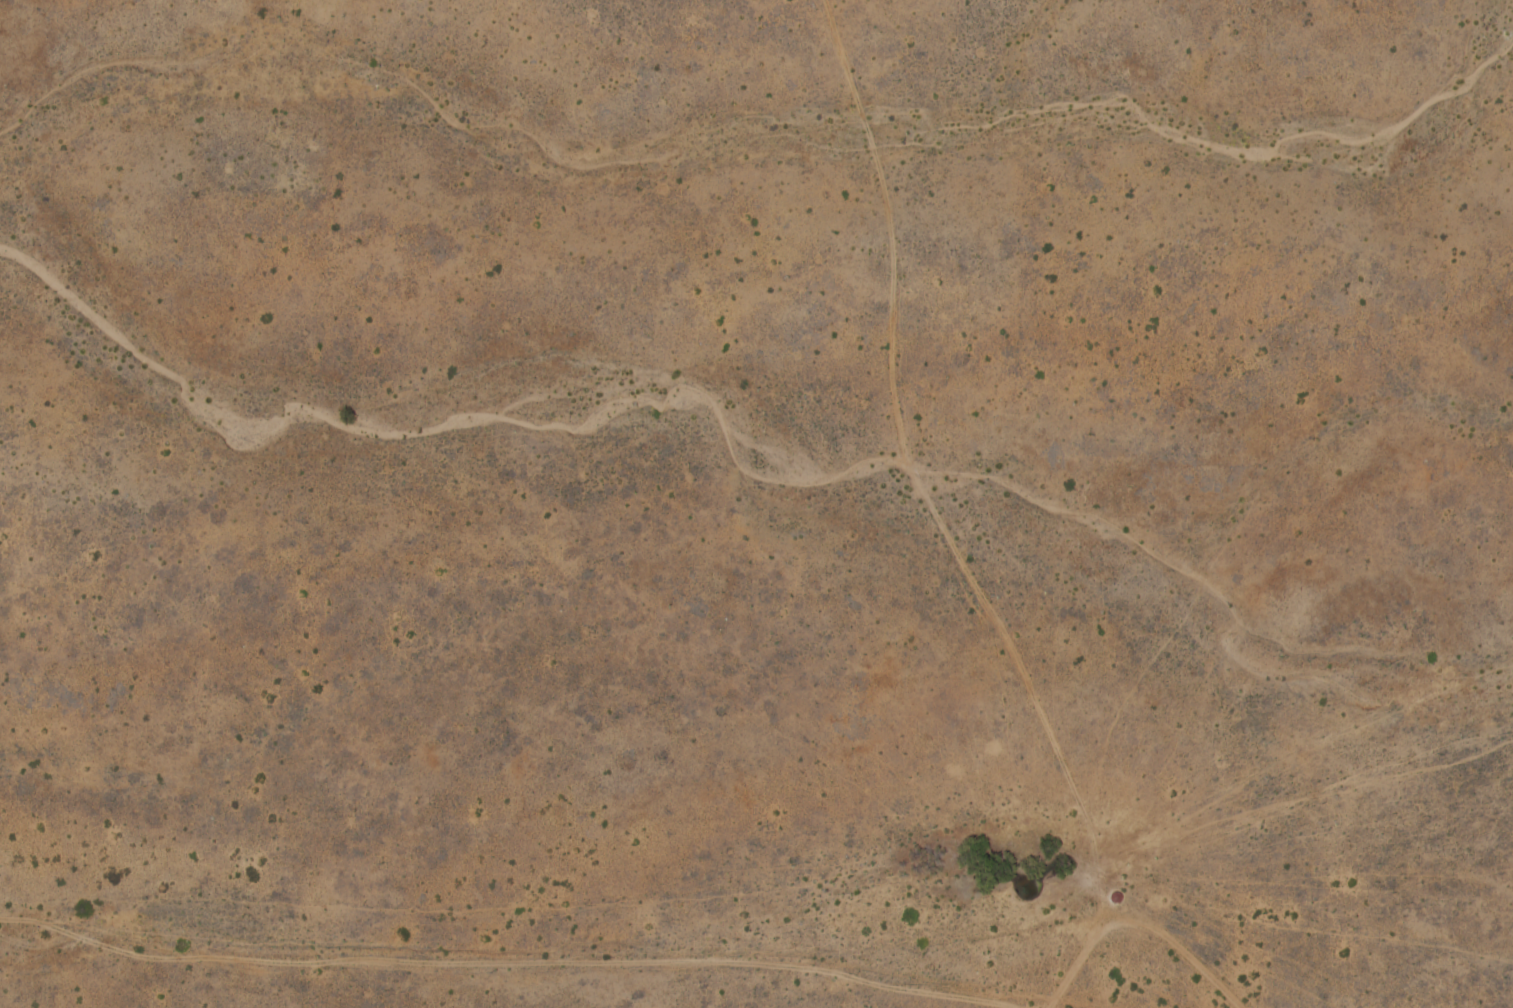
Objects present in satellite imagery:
road: (583, 891)
building: (1116, 896)
storage tank: (1116, 896)

